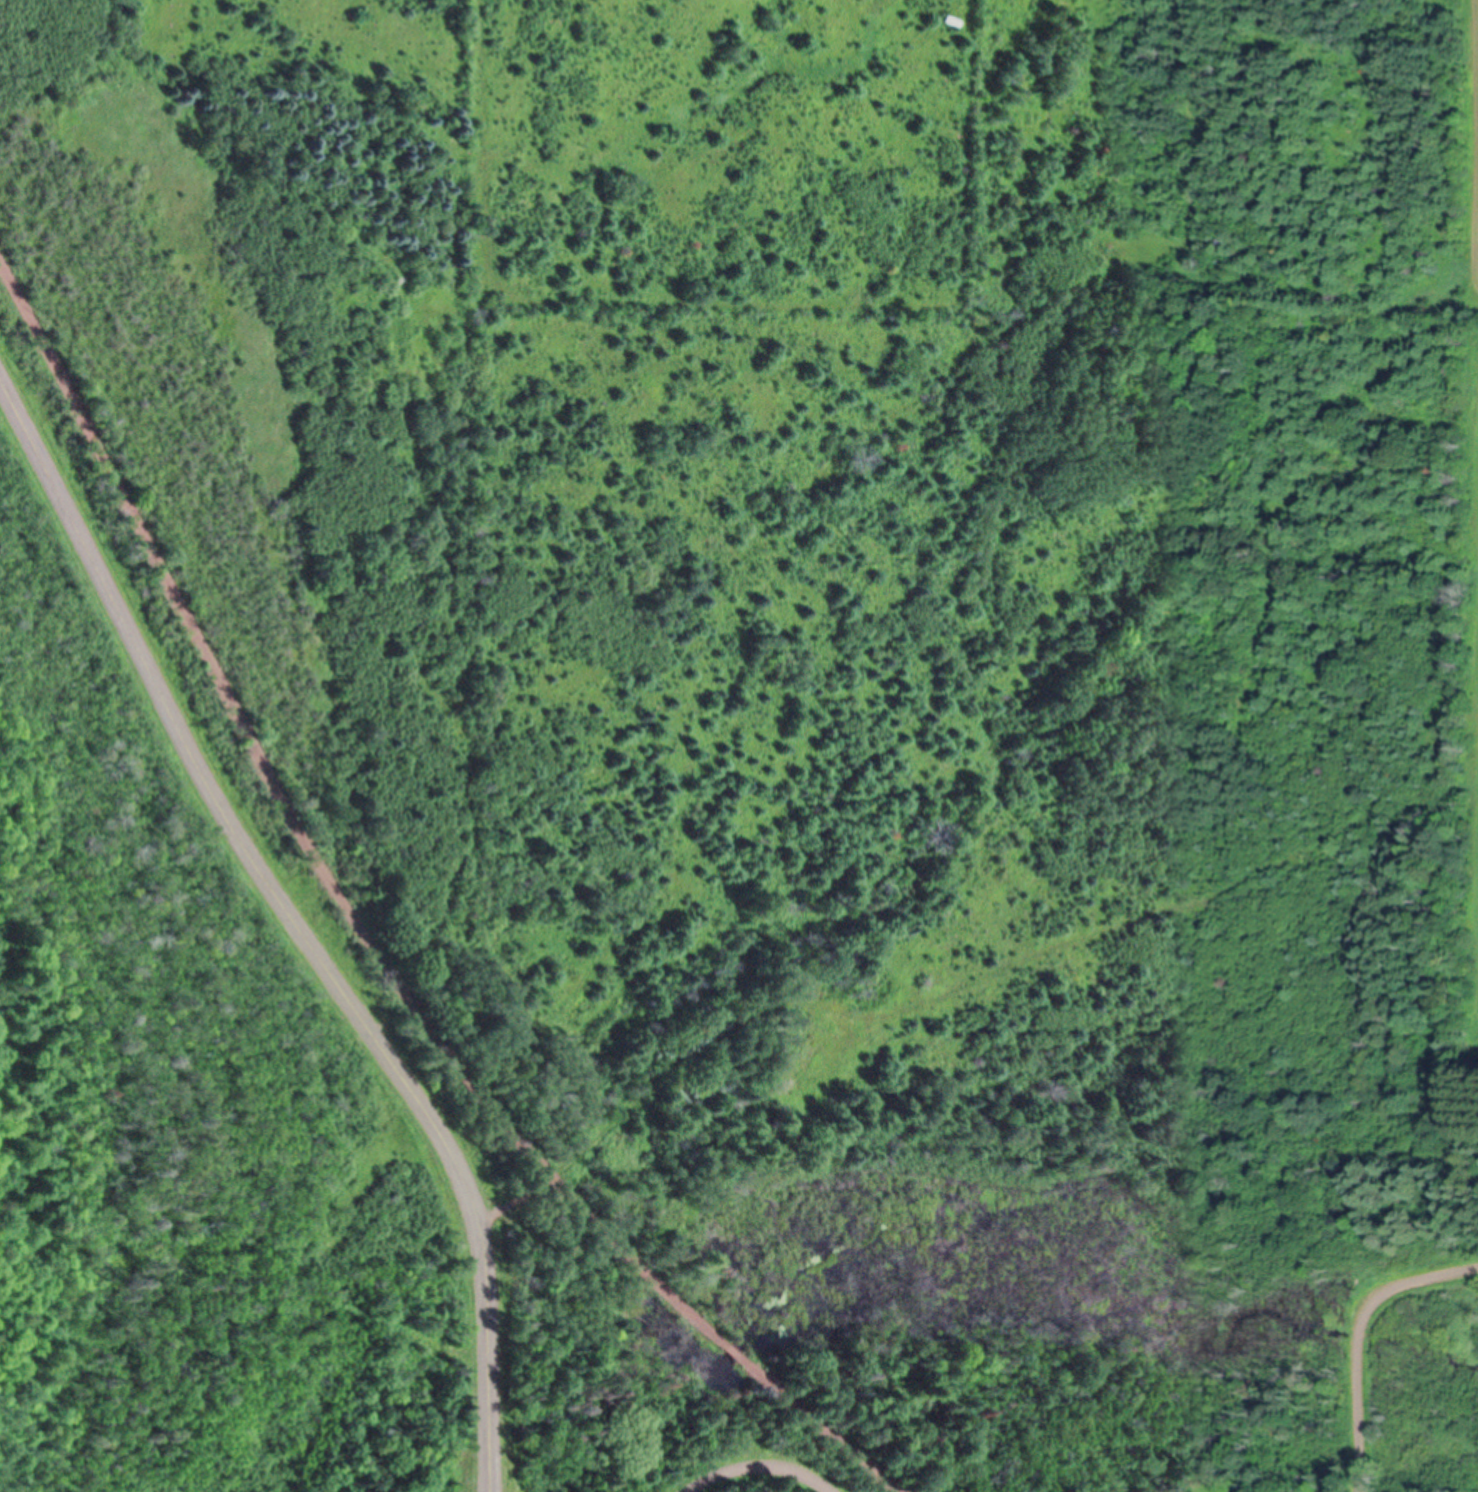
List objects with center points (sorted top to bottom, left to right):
road: (305, 842)
road: (297, 925)
road: (890, 1015)
road: (1357, 1336)
road: (734, 1353)
road: (819, 1428)
road: (758, 1466)

